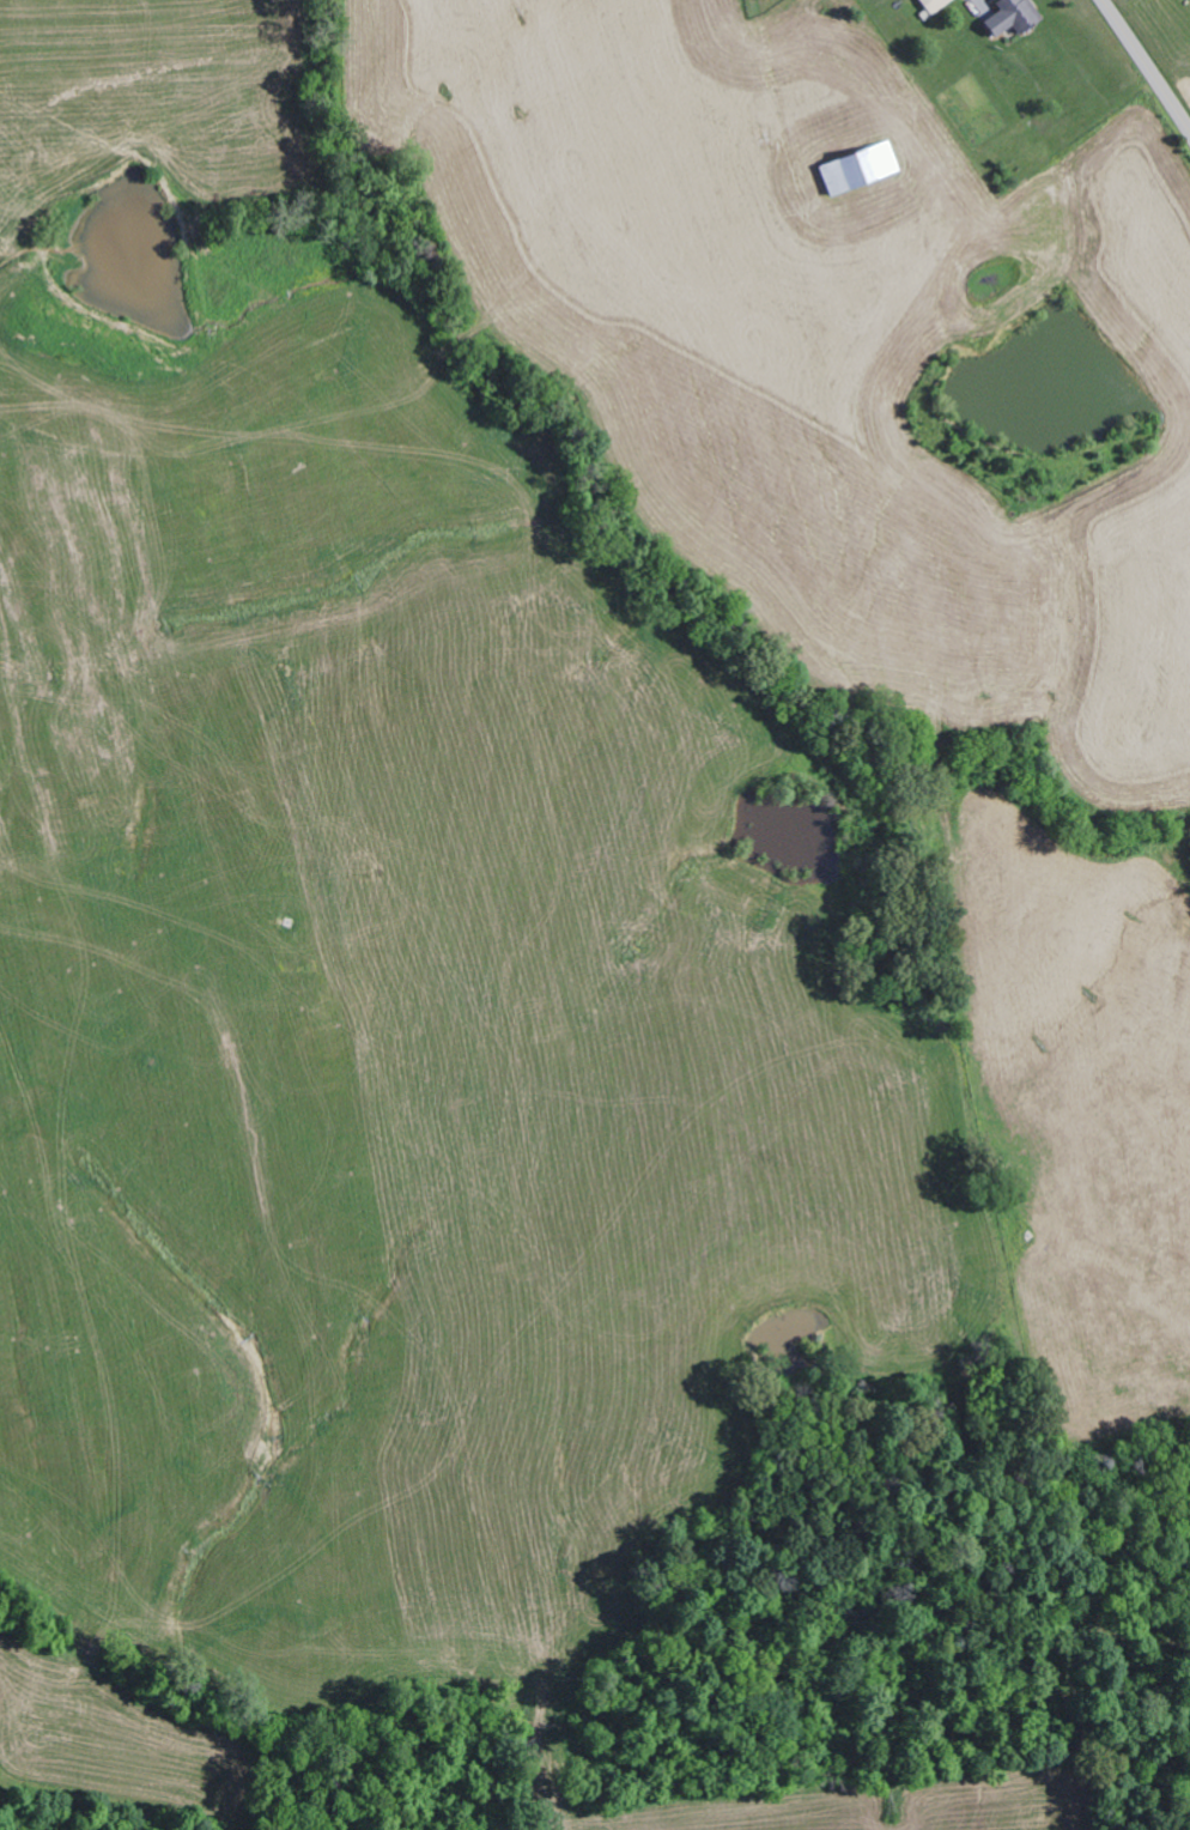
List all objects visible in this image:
building: (934, 5)
building: (1016, 17)
road: (1146, 66)
building: (862, 169)

